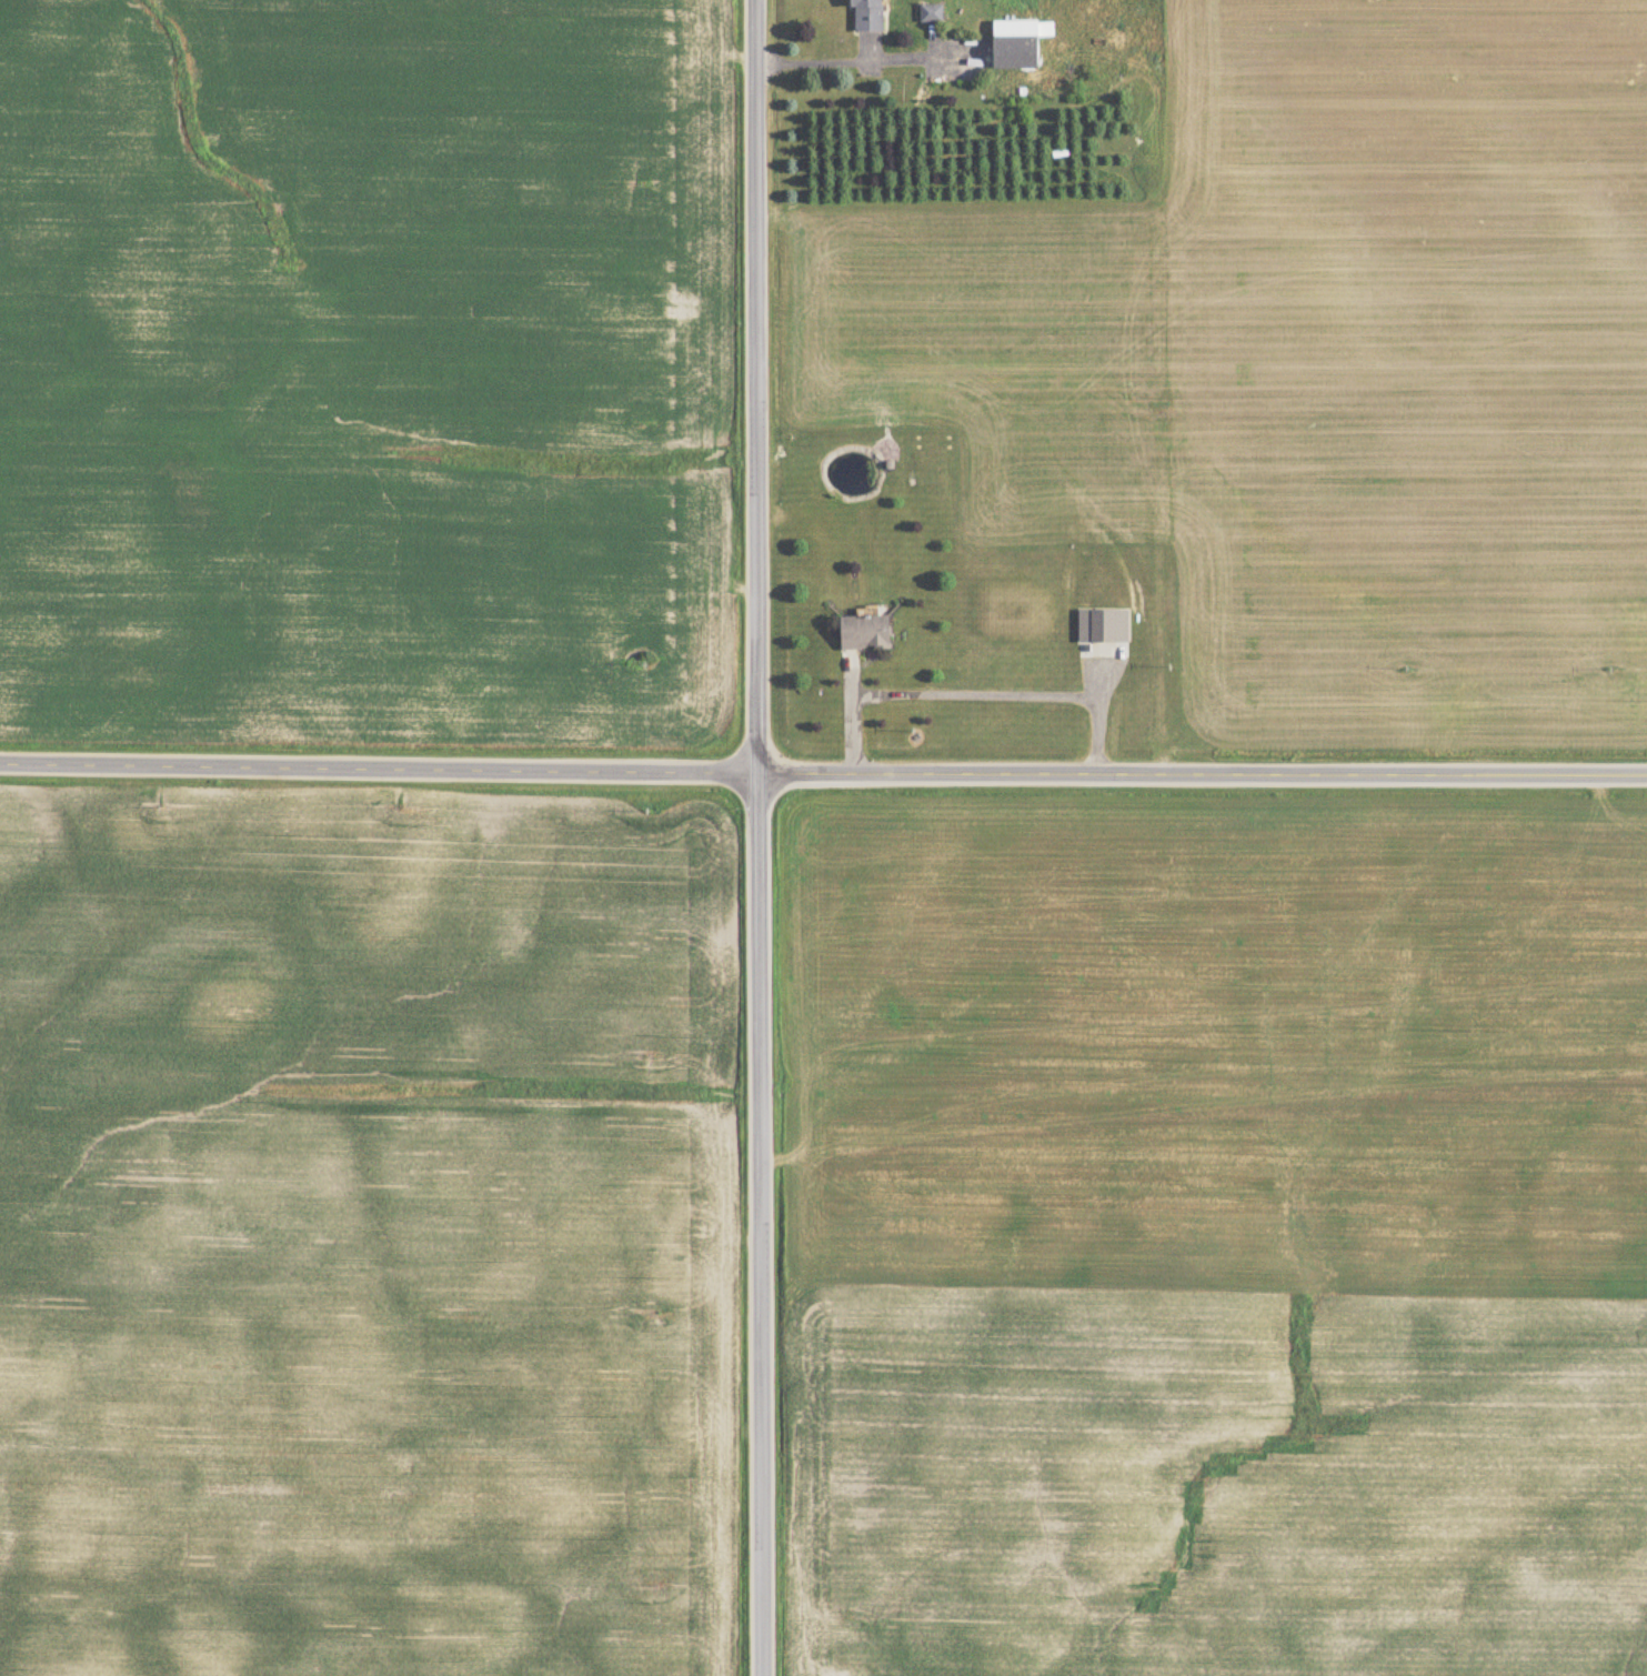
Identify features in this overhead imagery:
building: (931, 14)
building: (866, 16)
building: (1014, 53)
road: (857, 57)
building: (1103, 625)
building: (863, 632)
road: (975, 691)
road: (823, 773)
road: (759, 837)

